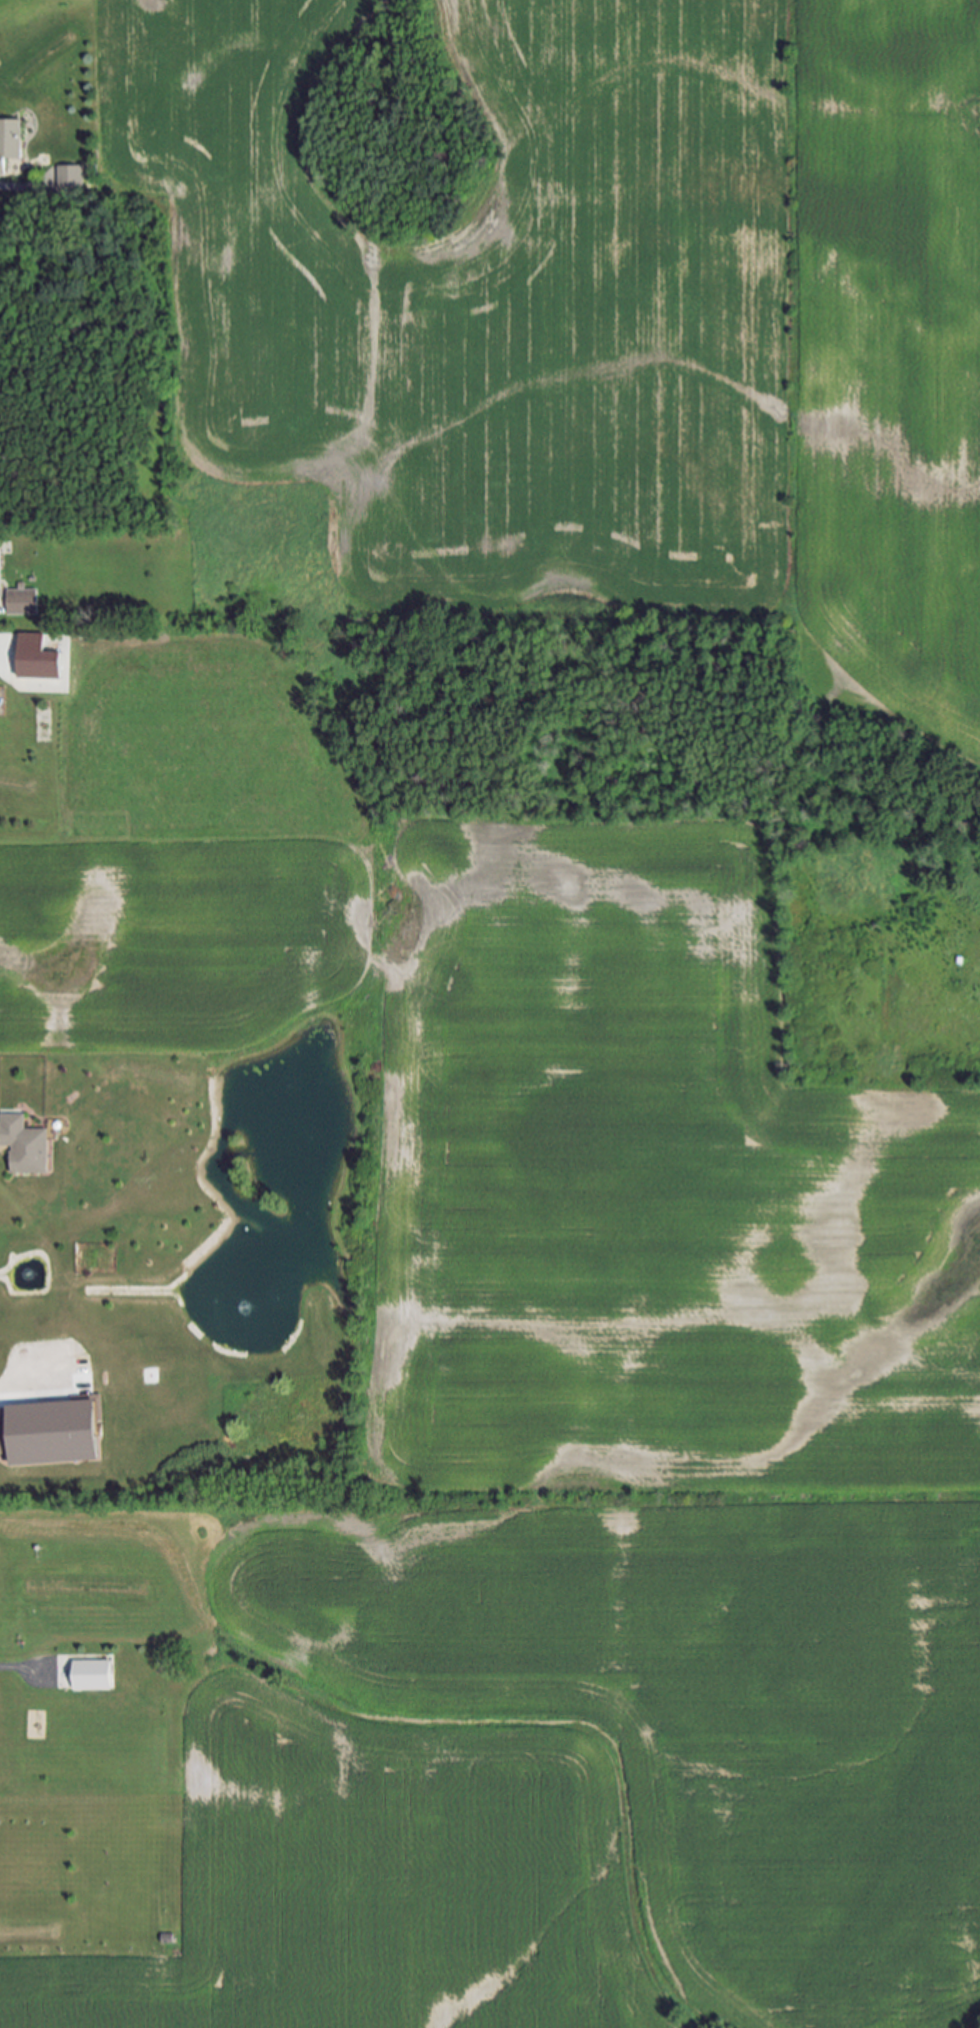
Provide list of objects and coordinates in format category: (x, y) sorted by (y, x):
building: (9, 142)
building: (71, 178)
crop: (605, 316)
building: (19, 598)
building: (31, 645)
crop: (187, 852)
building: (23, 1146)
road: (31, 1385)
building: (51, 1435)
crop: (610, 1508)
building: (94, 1675)

